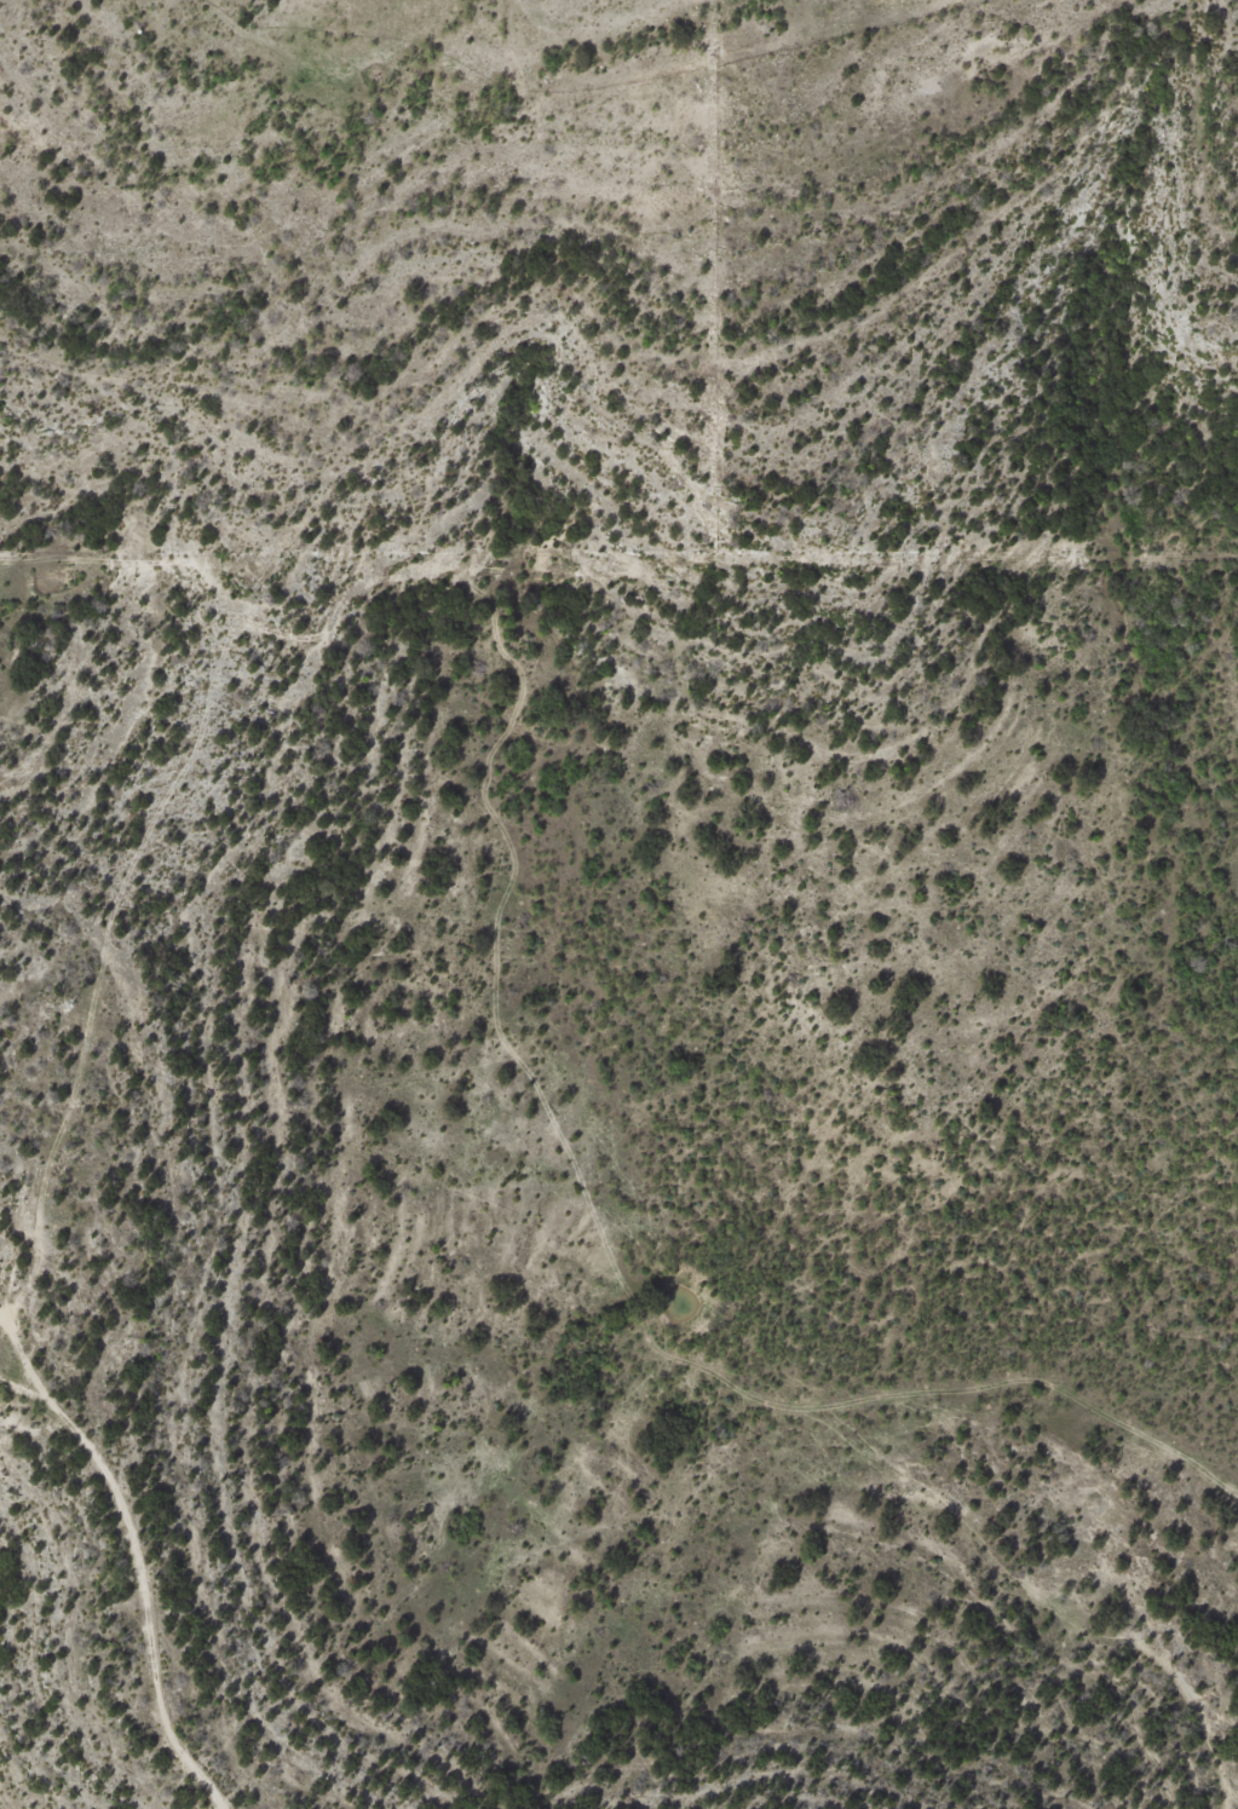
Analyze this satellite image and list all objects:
road: (109, 1623)

